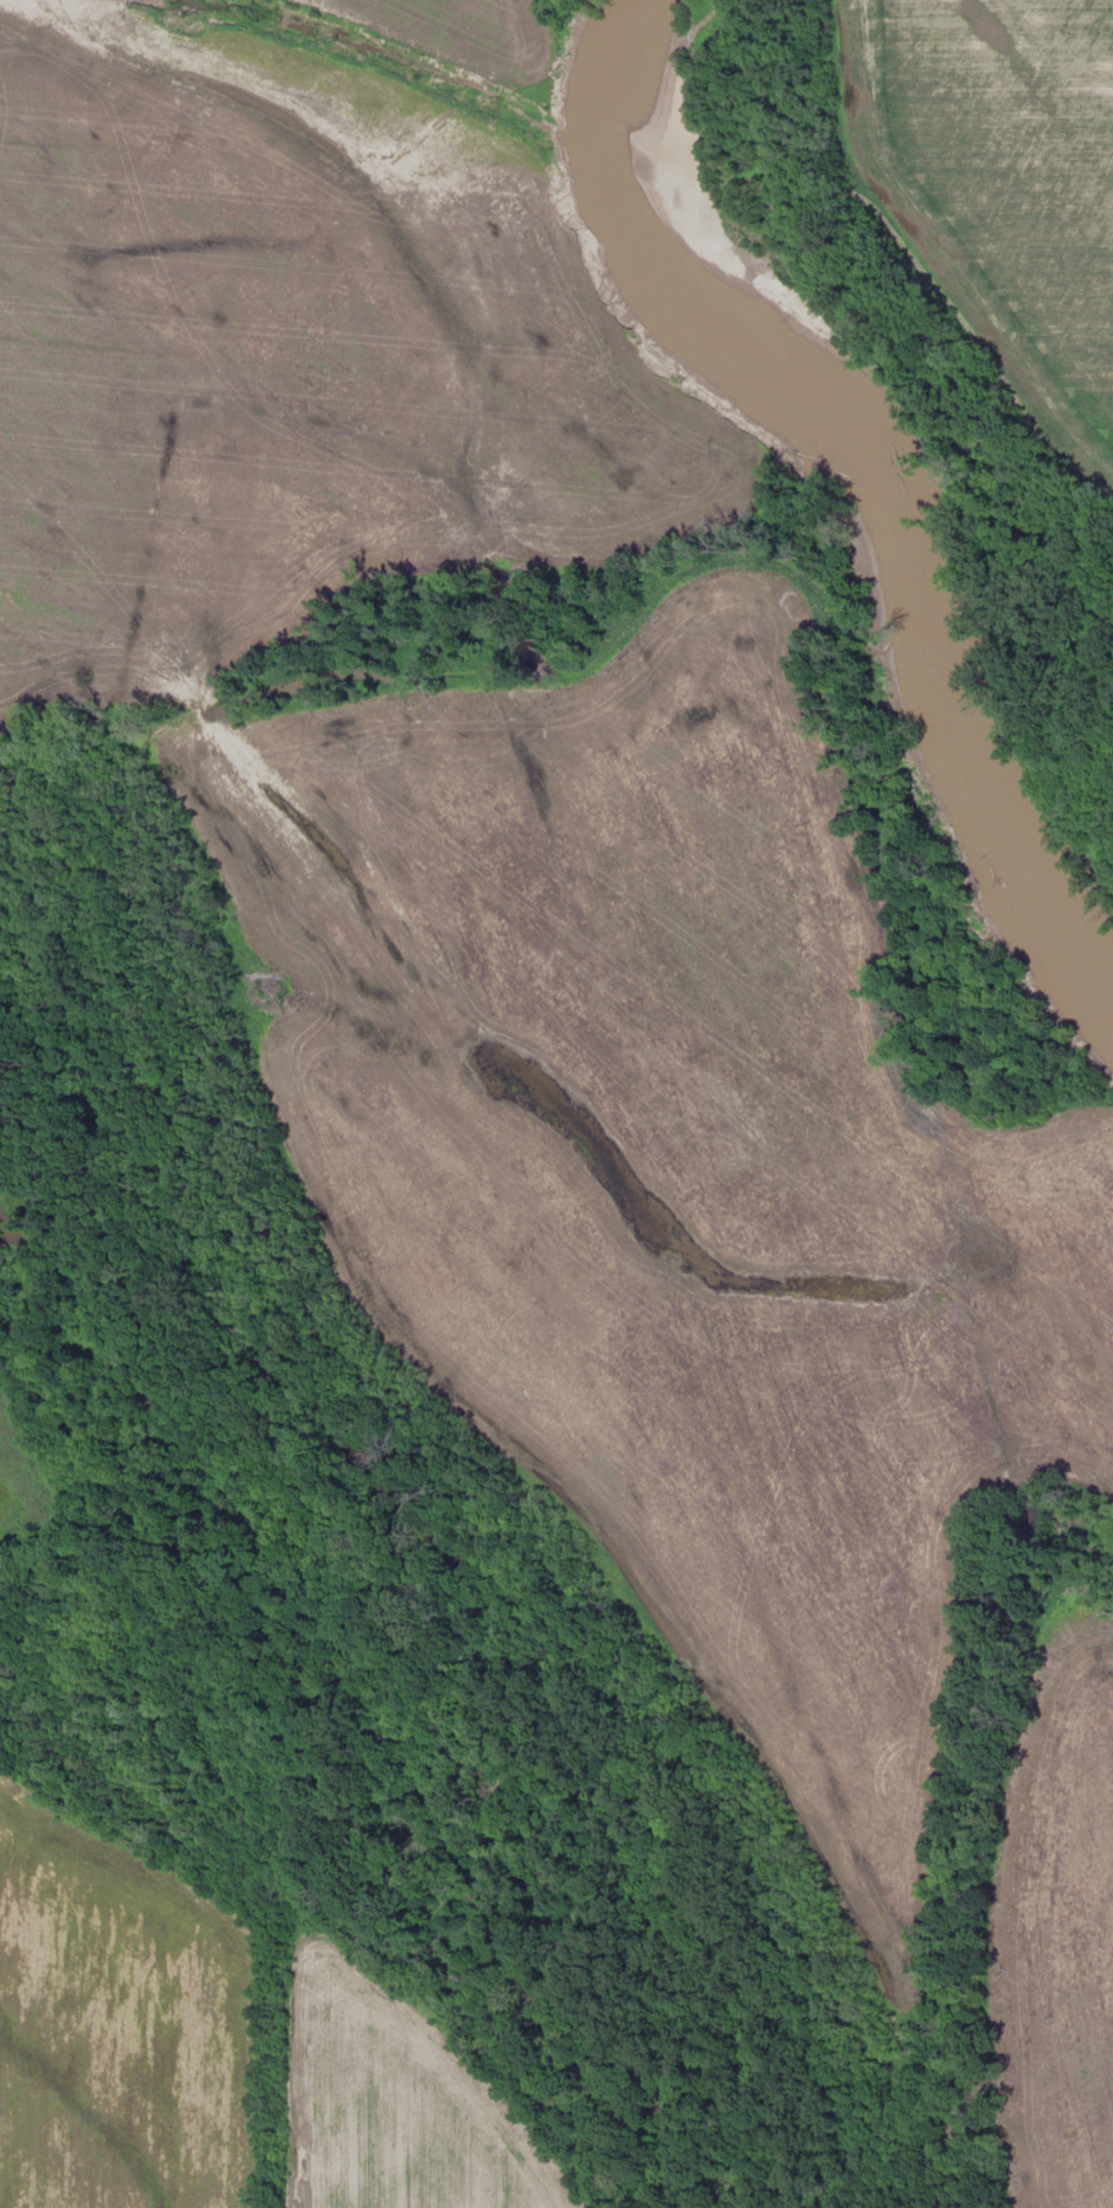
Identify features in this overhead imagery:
river: (848, 489)

